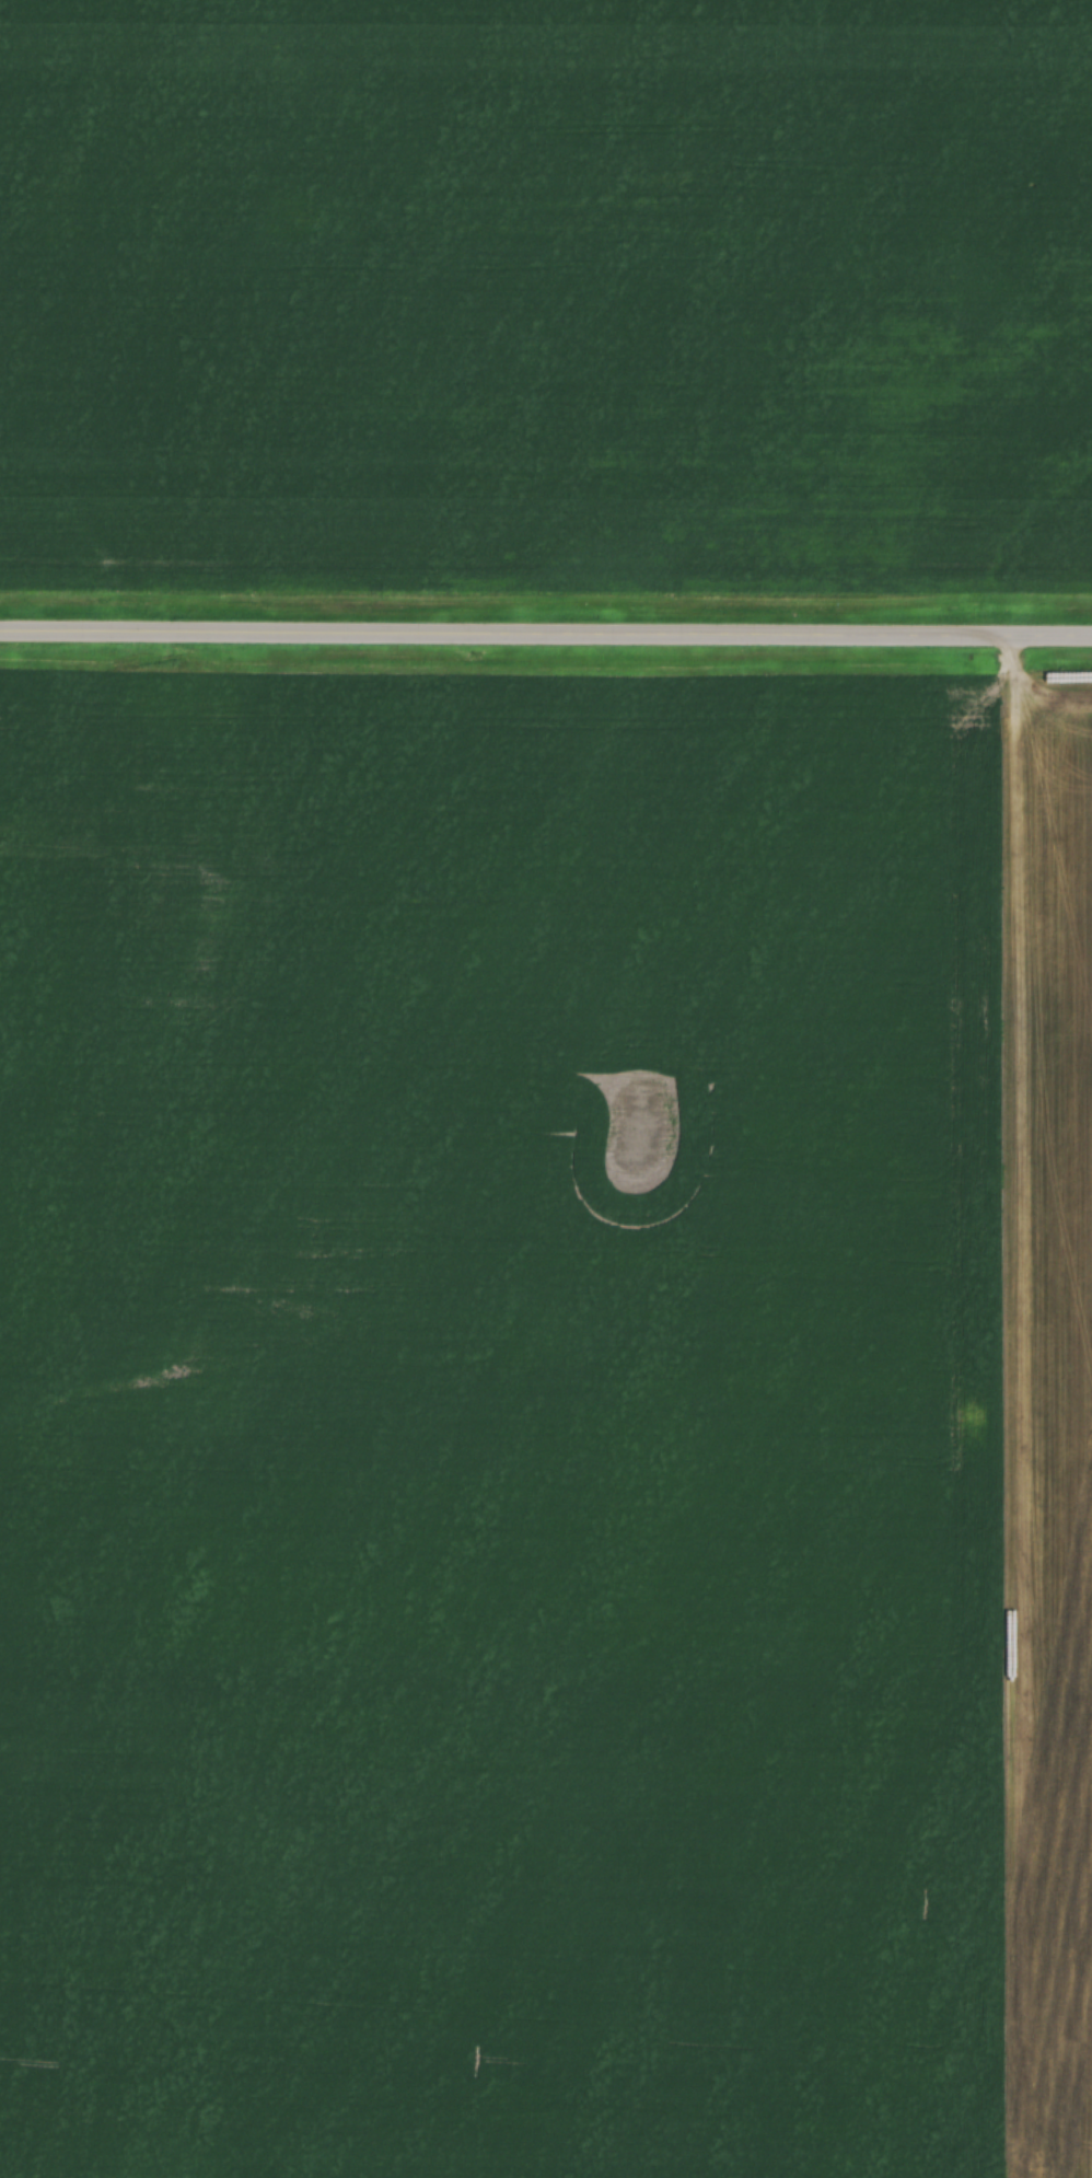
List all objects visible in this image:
road: (545, 633)

